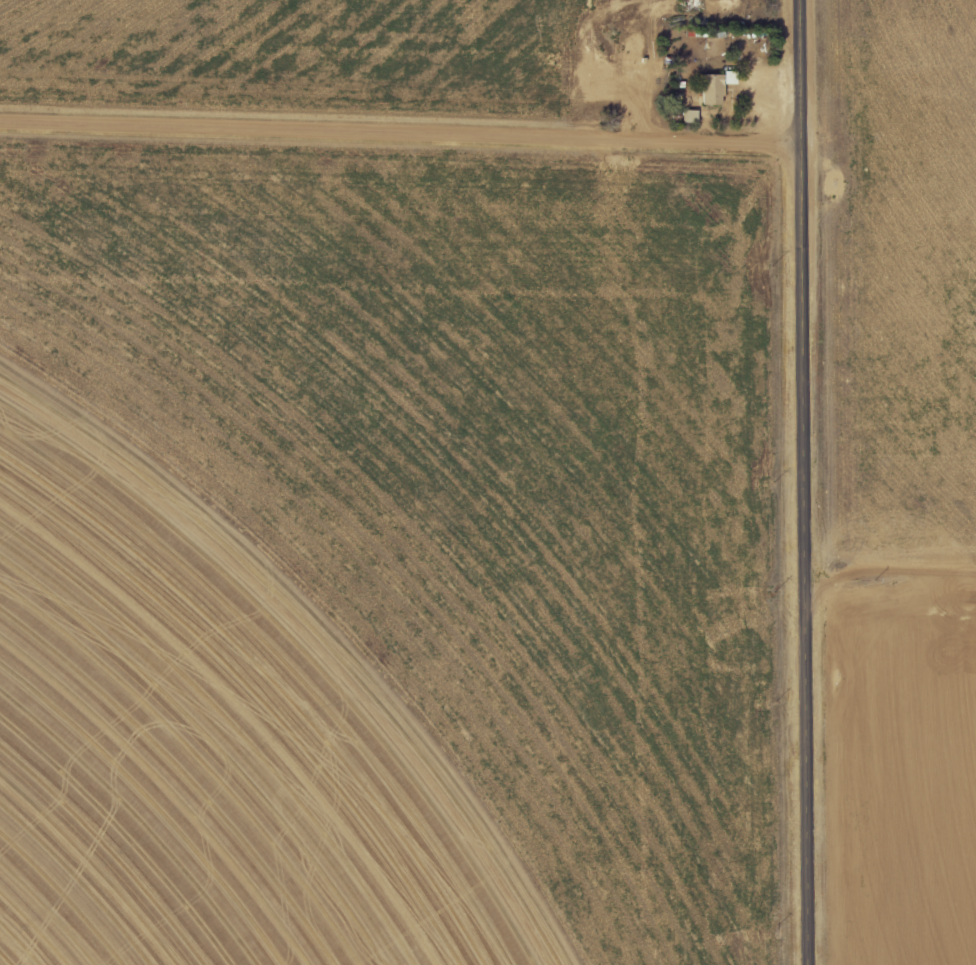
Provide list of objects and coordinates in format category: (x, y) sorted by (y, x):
road: (400, 131)
road: (805, 482)
road: (890, 578)

